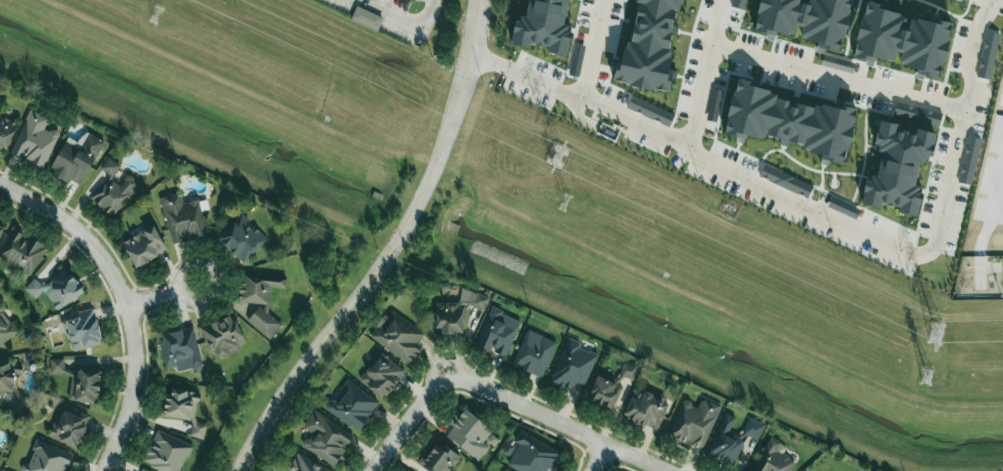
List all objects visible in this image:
building: (571, 0)
building: (575, 0)
building: (964, 0)
road: (402, 15)
power tower: (153, 17)
building: (366, 19)
building: (805, 20)
building: (543, 26)
building: (901, 40)
building: (648, 47)
road: (589, 53)
building: (988, 54)
building: (576, 60)
road: (705, 78)
road: (523, 80)
road: (835, 82)
building: (649, 111)
building: (917, 113)
building: (789, 122)
building: (6, 131)
building: (34, 140)
power tower: (557, 158)
building: (76, 160)
building: (968, 161)
building: (897, 168)
building: (785, 181)
building: (112, 189)
power tower: (563, 202)
building: (182, 218)
building: (1, 229)
road: (77, 233)
building: (242, 239)
road: (869, 243)
building: (143, 247)
road: (390, 250)
building: (21, 253)
building: (57, 290)
road: (161, 296)
building: (260, 300)
building: (457, 312)
building: (6, 327)
building: (81, 330)
building: (496, 332)
power tower: (935, 335)
building: (222, 337)
building: (397, 337)
building: (180, 348)
building: (534, 354)
building: (572, 366)
building: (627, 371)
building: (381, 376)
power tower: (924, 376)
building: (78, 382)
building: (6, 383)
building: (604, 390)
road: (133, 391)
building: (352, 406)
building: (646, 409)
building: (184, 410)
road: (408, 422)
road: (553, 422)
building: (694, 423)
building: (69, 427)
building: (471, 435)
building: (325, 438)
building: (731, 439)
building: (166, 453)
building: (532, 455)
building: (47, 458)
road: (596, 458)
building: (772, 458)
building: (440, 459)
building: (304, 465)
building: (141, 470)
building: (504, 470)

